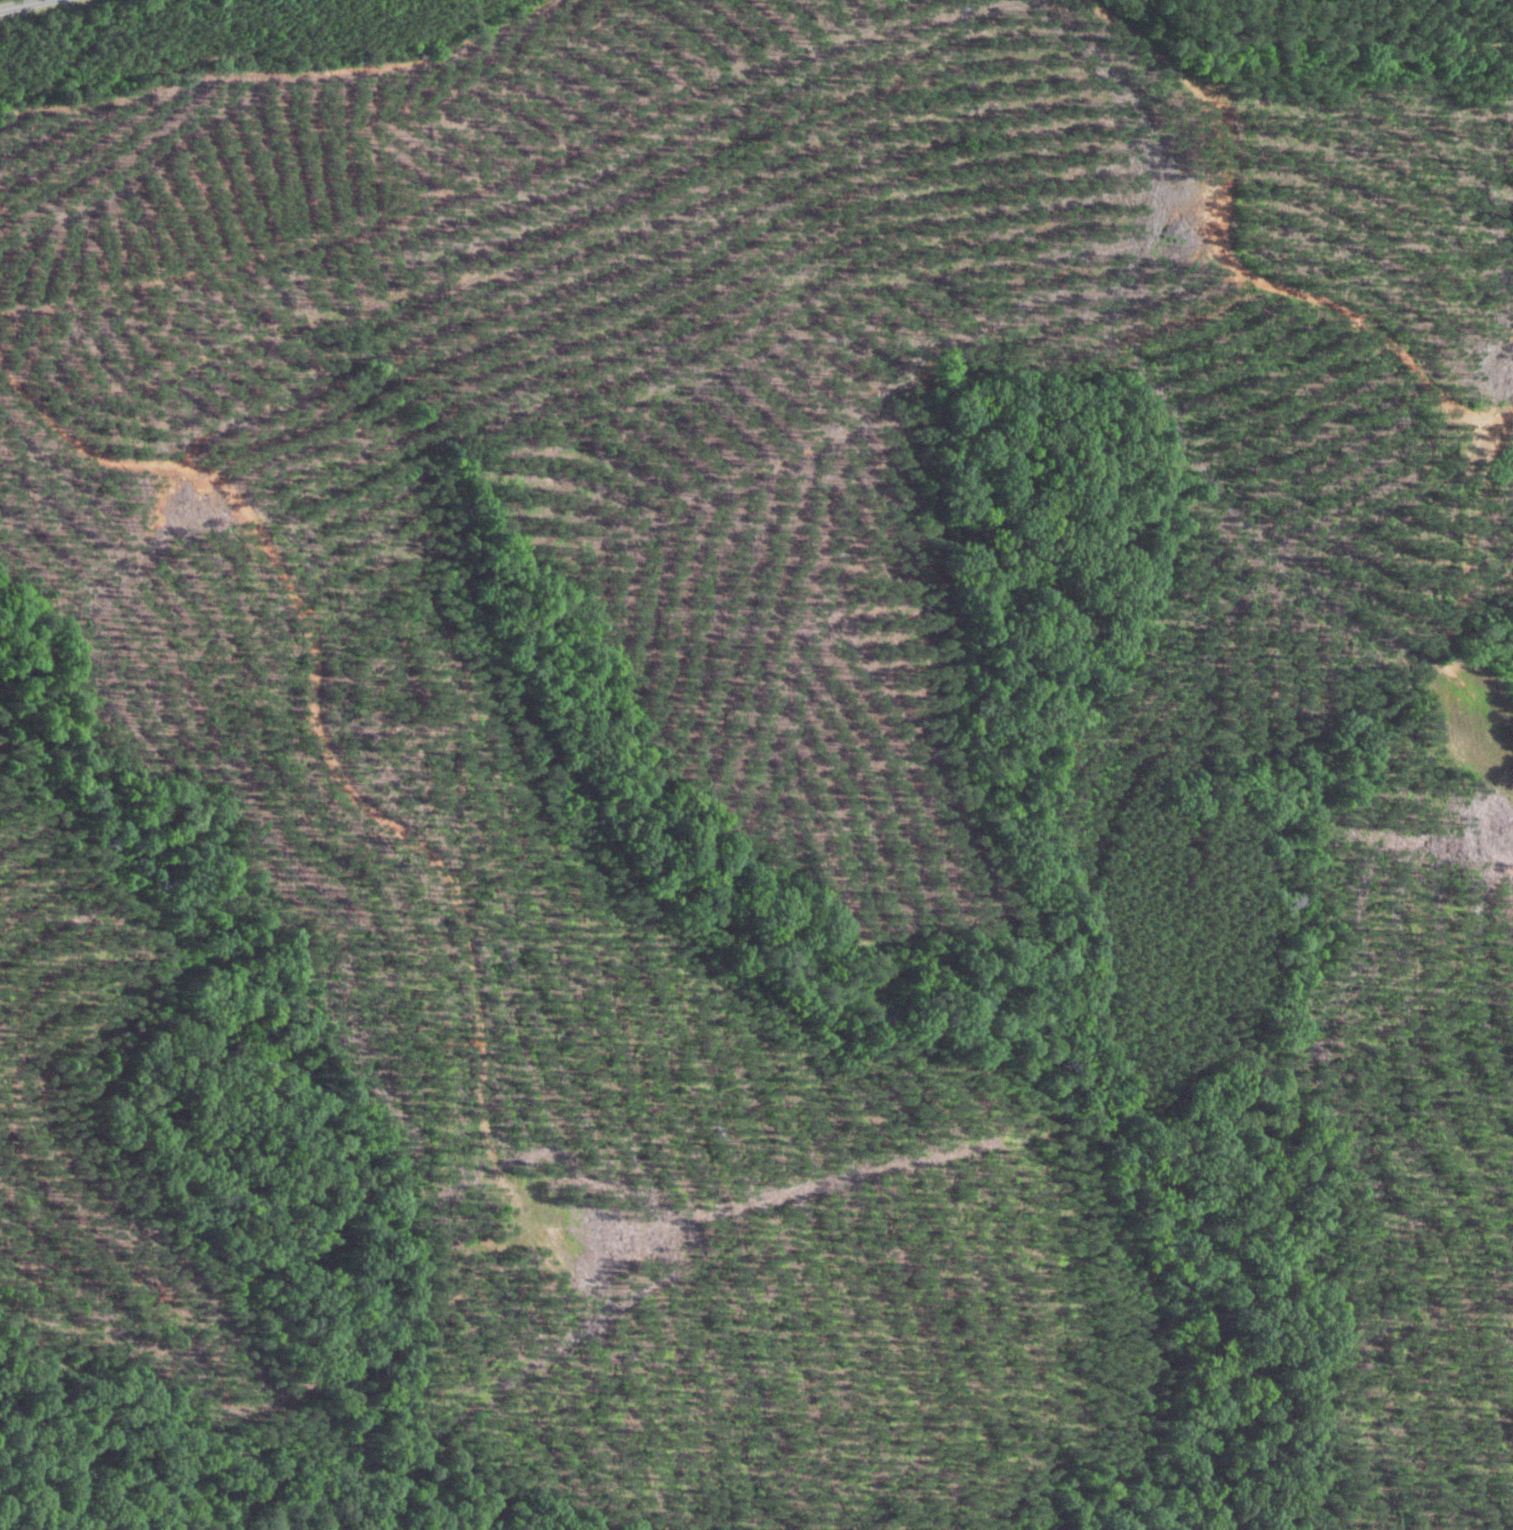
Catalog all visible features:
road: (32, 6)

